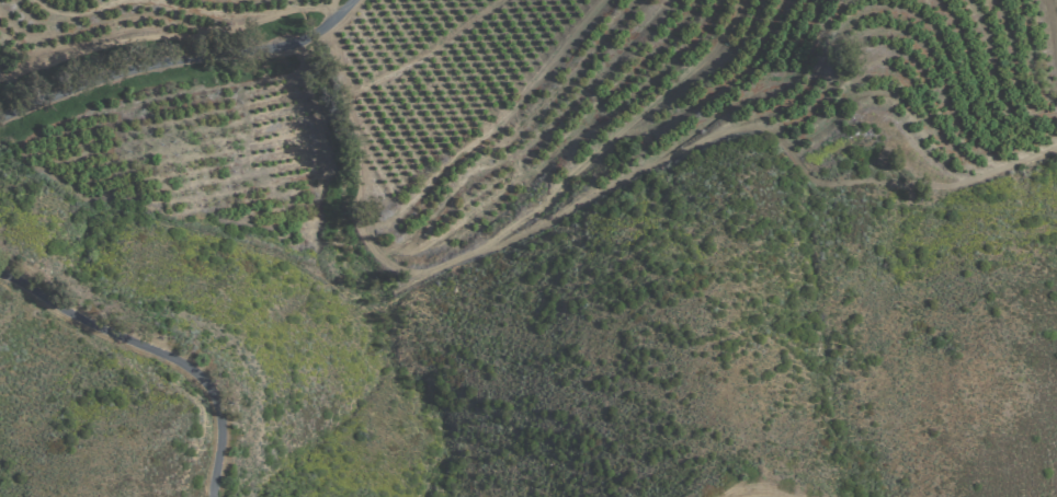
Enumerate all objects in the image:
road: (175, 60)
crop: (513, 132)
road: (159, 350)

